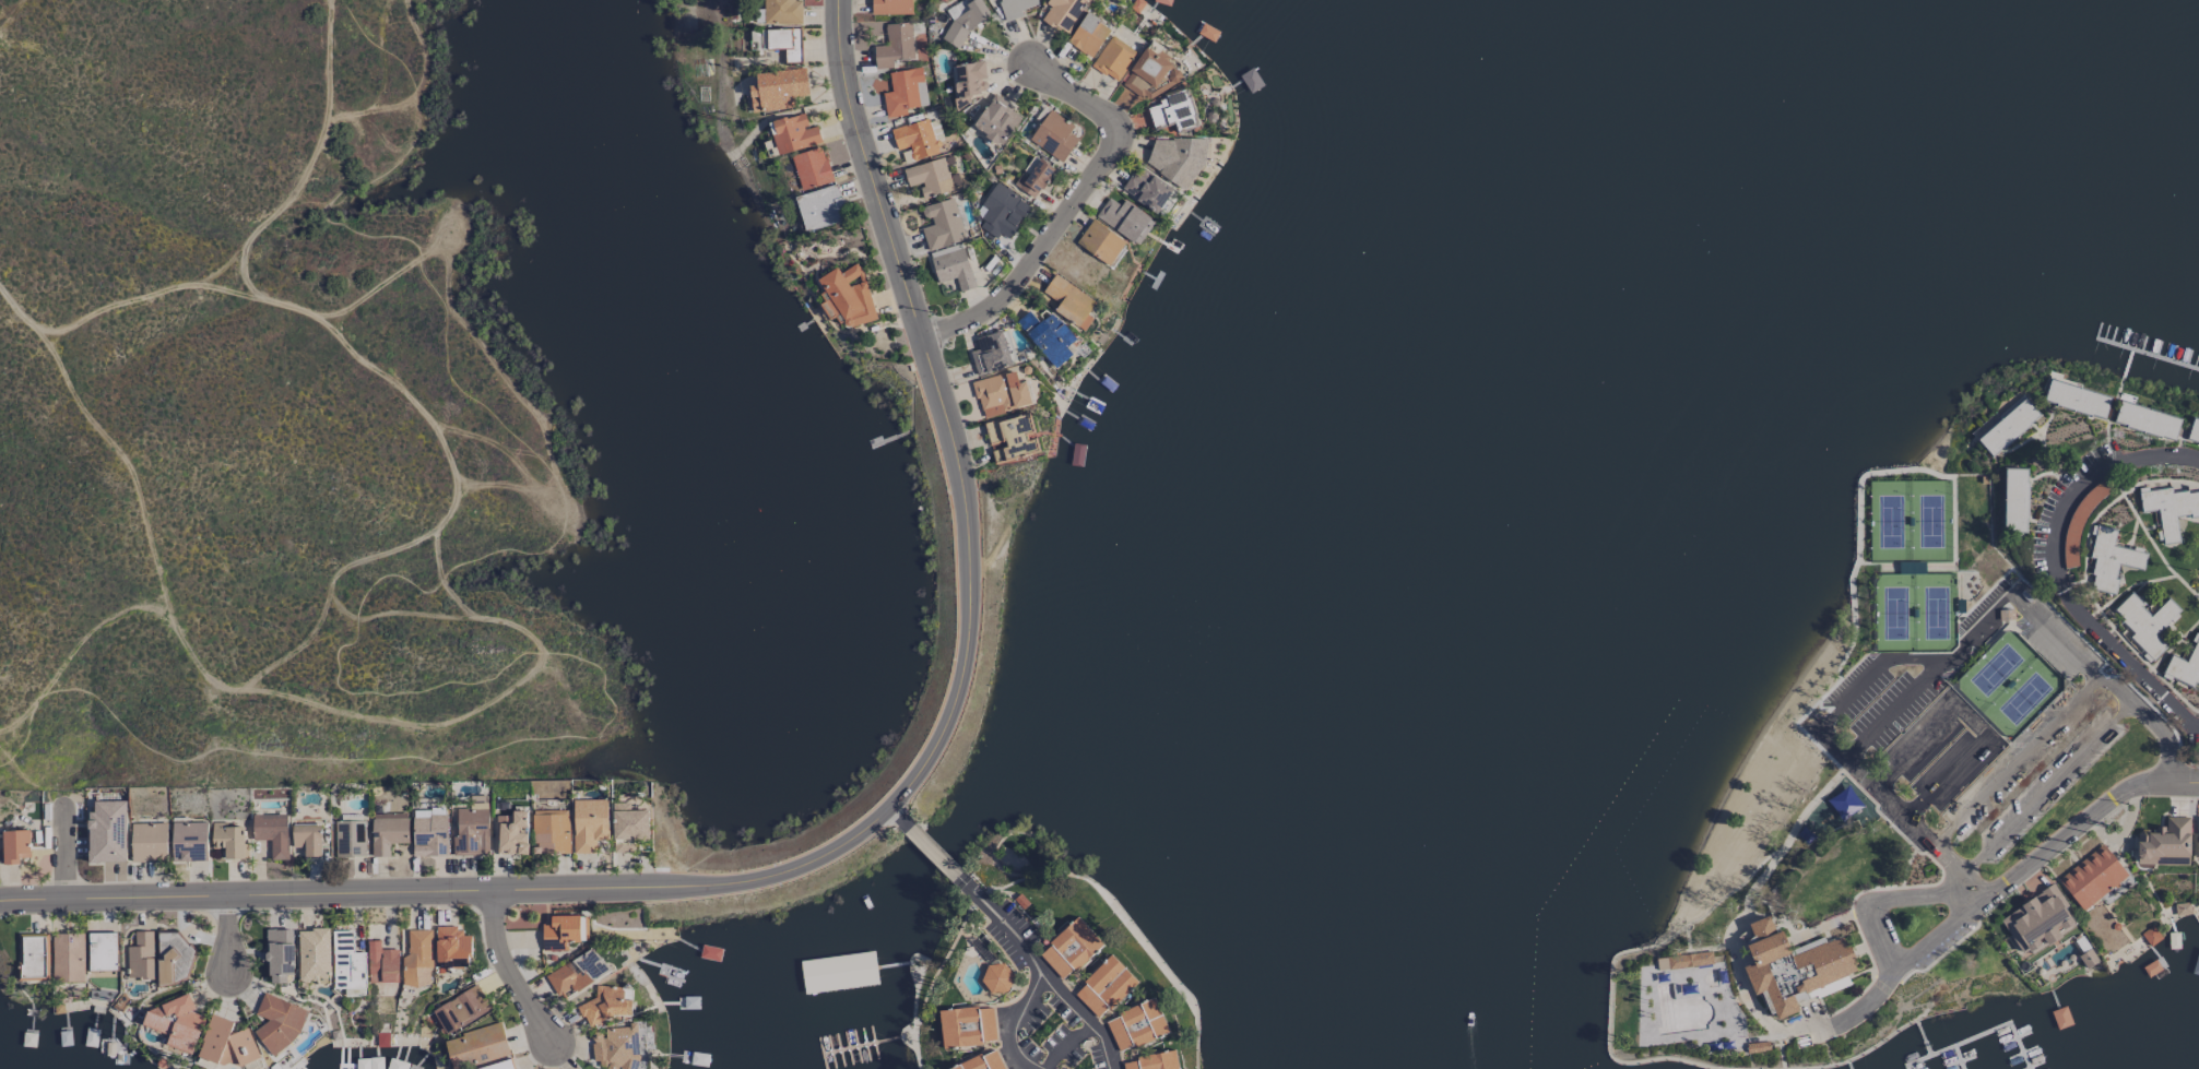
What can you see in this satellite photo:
building: (890, 7)
building: (1015, 8)
road: (9, 10)
building: (782, 11)
building: (1064, 14)
building: (963, 22)
building: (1088, 34)
building: (784, 43)
building: (894, 46)
building: (1113, 58)
road: (386, 61)
building: (1150, 73)
road: (417, 82)
building: (968, 82)
building: (777, 90)
building: (903, 92)
building: (1173, 111)
building: (996, 120)
building: (792, 133)
building: (1053, 136)
building: (914, 139)
building: (1178, 158)
building: (811, 168)
building: (929, 177)
building: (1036, 178)
building: (1147, 189)
road: (1071, 203)
building: (819, 207)
building: (1001, 212)
building: (1125, 219)
building: (942, 225)
building: (1099, 242)
building: (847, 296)
building: (1069, 301)
road: (453, 309)
road: (11, 324)
building: (1048, 337)
building: (991, 354)
building: (1001, 394)
building: (2076, 399)
building: (2145, 421)
building: (2007, 427)
building: (2192, 432)
building: (1012, 439)
road: (111, 446)
road: (500, 451)
road: (516, 490)
building: (2013, 500)
road: (453, 503)
building: (2168, 508)
building: (2109, 560)
road: (2055, 565)
park: (1912, 566)
road: (445, 579)
road: (2018, 596)
road: (355, 601)
building: (2145, 622)
road: (341, 666)
building: (2185, 666)
road: (536, 669)
park: (2009, 684)
road: (1900, 712)
road: (1930, 731)
road: (14, 733)
parking lot: (1993, 738)
road: (2018, 759)
road: (9, 763)
road: (1944, 775)
road: (50, 777)
road: (2047, 786)
park: (1747, 797)
building: (1844, 803)
road: (1904, 813)
building: (589, 823)
road: (862, 823)
building: (630, 824)
building: (471, 831)
building: (107, 832)
building: (388, 832)
building: (429, 832)
building: (551, 832)
building: (271, 833)
building: (512, 833)
building: (307, 839)
building: (350, 839)
building: (2197, 839)
building: (228, 840)
building: (188, 841)
building: (149, 842)
building: (2163, 842)
building: (14, 846)
road: (79, 846)
building: (623, 846)
road: (931, 847)
building: (2092, 877)
road: (1902, 887)
road: (1999, 889)
road: (1883, 896)
building: (2037, 920)
road: (1819, 928)
building: (564, 931)
road: (1007, 931)
road: (228, 933)
building: (2150, 936)
road: (1656, 943)
building: (451, 947)
road: (1707, 948)
building: (1069, 949)
park: (17, 951)
building: (102, 951)
road: (1942, 953)
building: (168, 954)
building: (279, 954)
building: (312, 954)
building: (141, 955)
building: (32, 957)
building: (67, 958)
building: (417, 959)
building: (1689, 960)
building: (346, 962)
building: (381, 963)
road: (1735, 965)
building: (1794, 967)
road: (506, 971)
building: (576, 973)
building: (868, 974)
road: (1047, 976)
building: (996, 978)
building: (1104, 987)
building: (354, 993)
road: (1911, 998)
building: (607, 1005)
building: (460, 1010)
building: (277, 1022)
building: (175, 1023)
building: (1135, 1025)
building: (966, 1026)
pier: (2014, 1036)
pier: (1922, 1037)
pier: (1955, 1043)
building: (226, 1044)
pier: (2019, 1045)
building: (476, 1046)
building: (618, 1047)
road: (1869, 1048)
road: (1780, 1049)
pier: (2022, 1052)
pier: (1959, 1056)
pier: (1960, 1060)
building: (981, 1061)
building: (1152, 1061)
building: (500, 1064)
pier: (2032, 1064)
pier: (1847, 1065)
pier: (1903, 1067)

